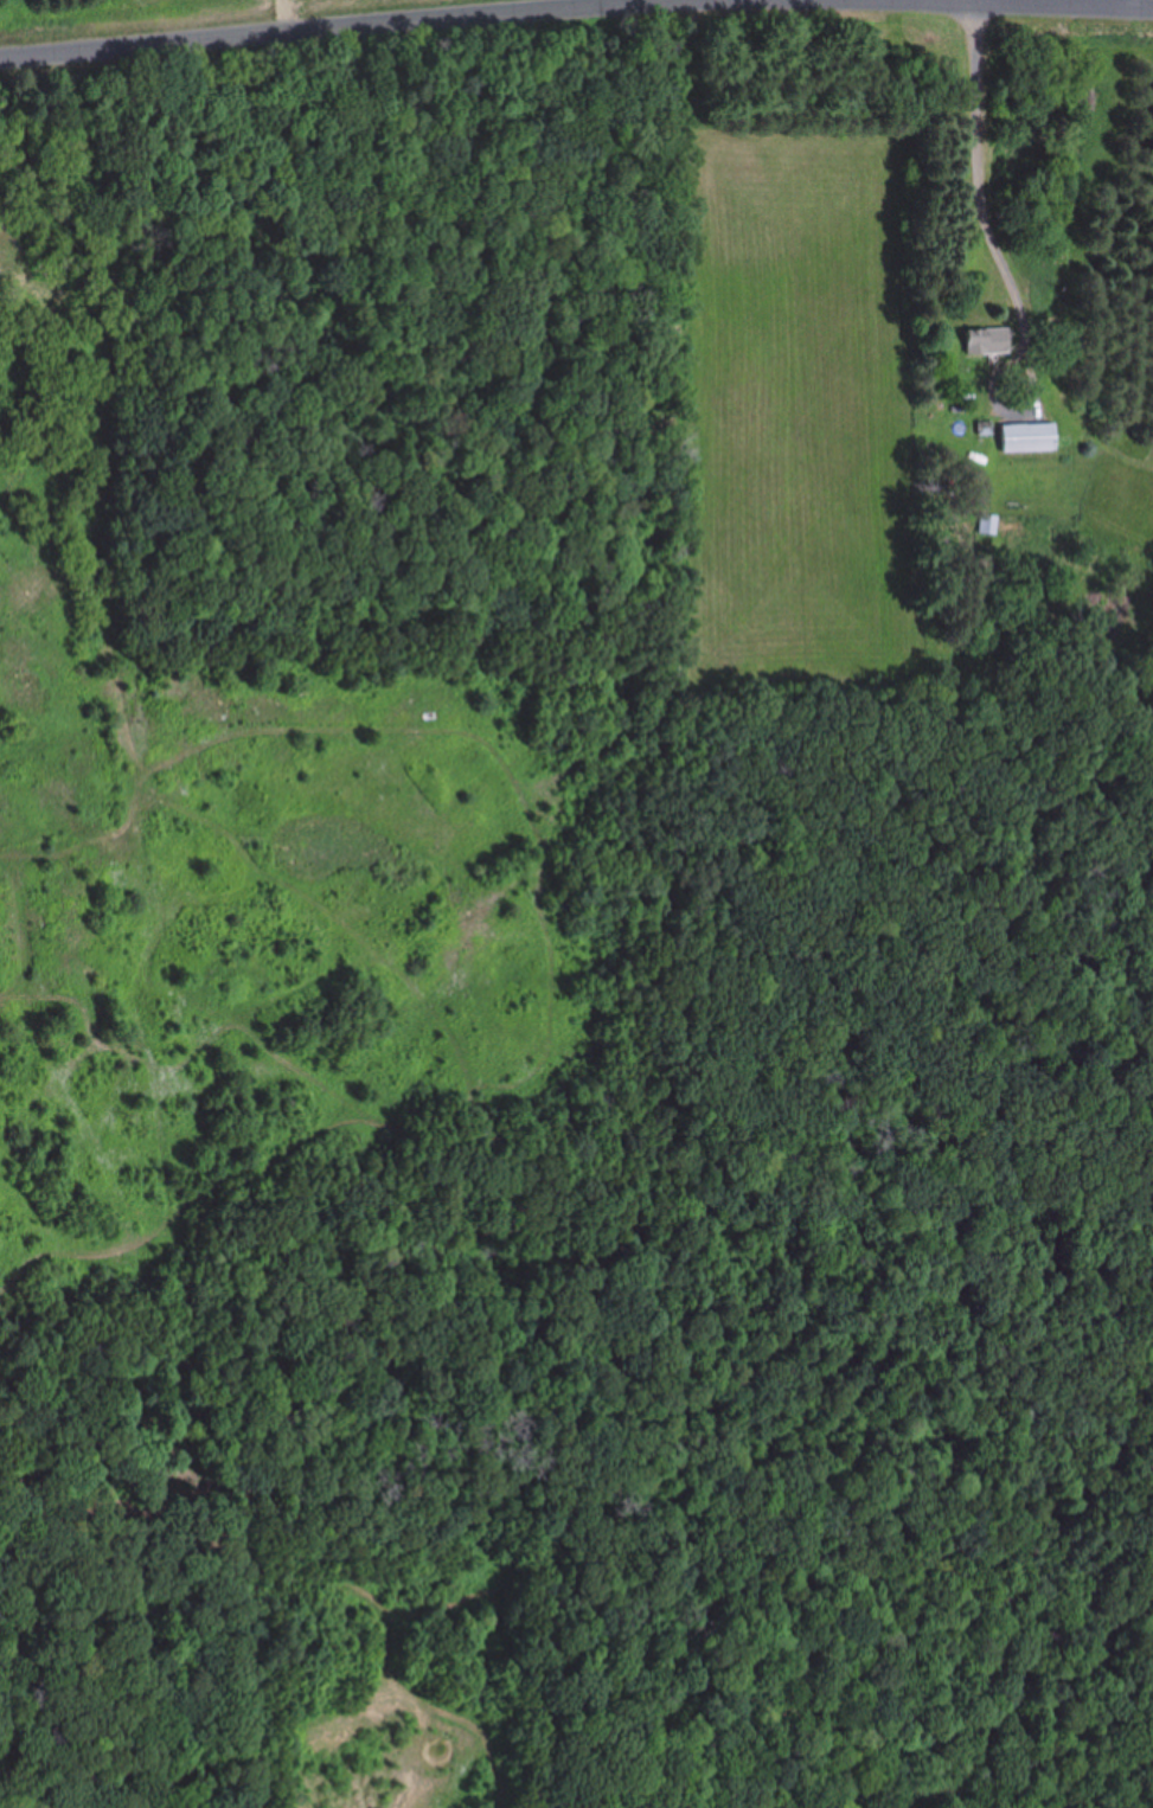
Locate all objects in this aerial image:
road: (1094, 1)
road: (290, 21)
building: (984, 342)
building: (1026, 440)
building: (987, 526)
crop: (244, 916)

